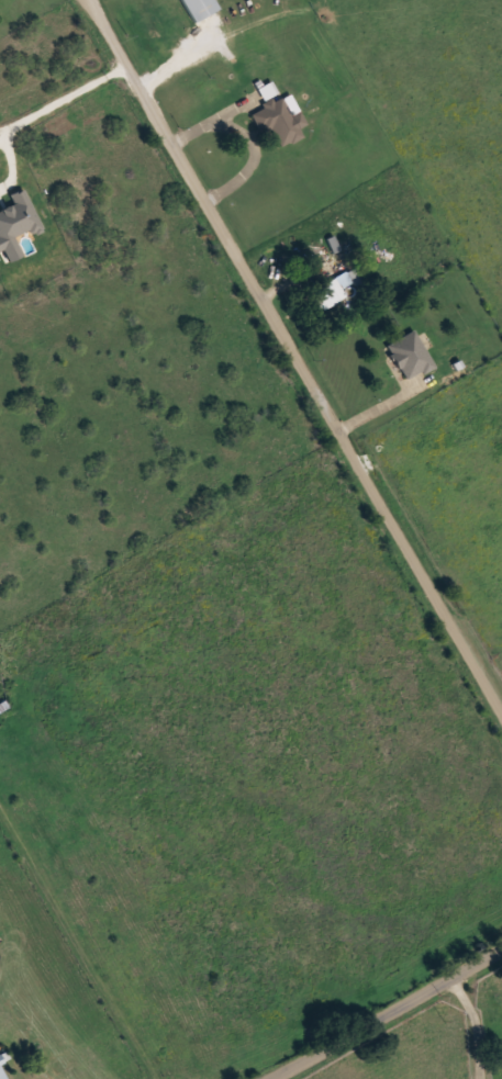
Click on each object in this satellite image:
building: (199, 8)
building: (279, 120)
building: (336, 288)
road: (294, 355)
building: (410, 355)
road: (389, 1013)
building: (2, 1072)

